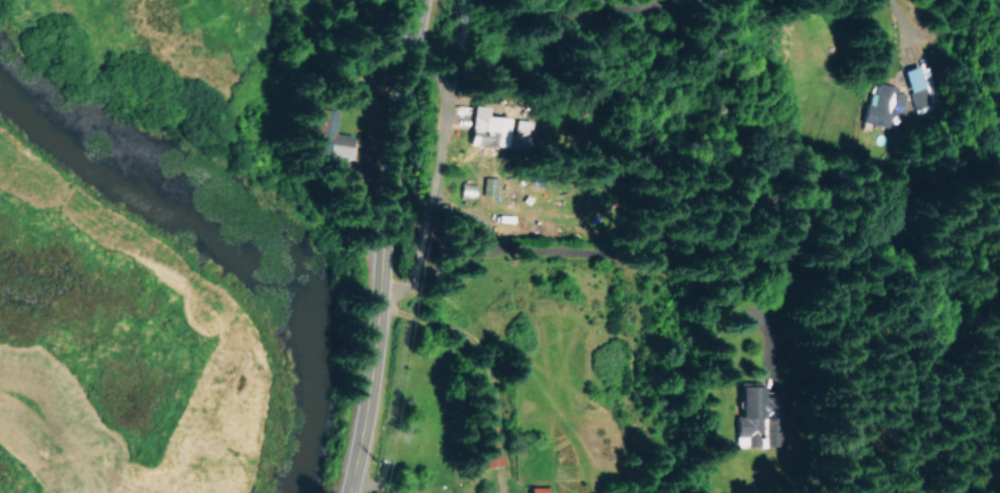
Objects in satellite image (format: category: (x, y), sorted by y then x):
building: (917, 77)
building: (880, 104)
road: (394, 129)
building: (492, 129)
building: (326, 135)
building: (487, 185)
building: (464, 189)
road: (578, 253)
road: (369, 377)
building: (753, 403)
building: (489, 439)
building: (536, 489)

